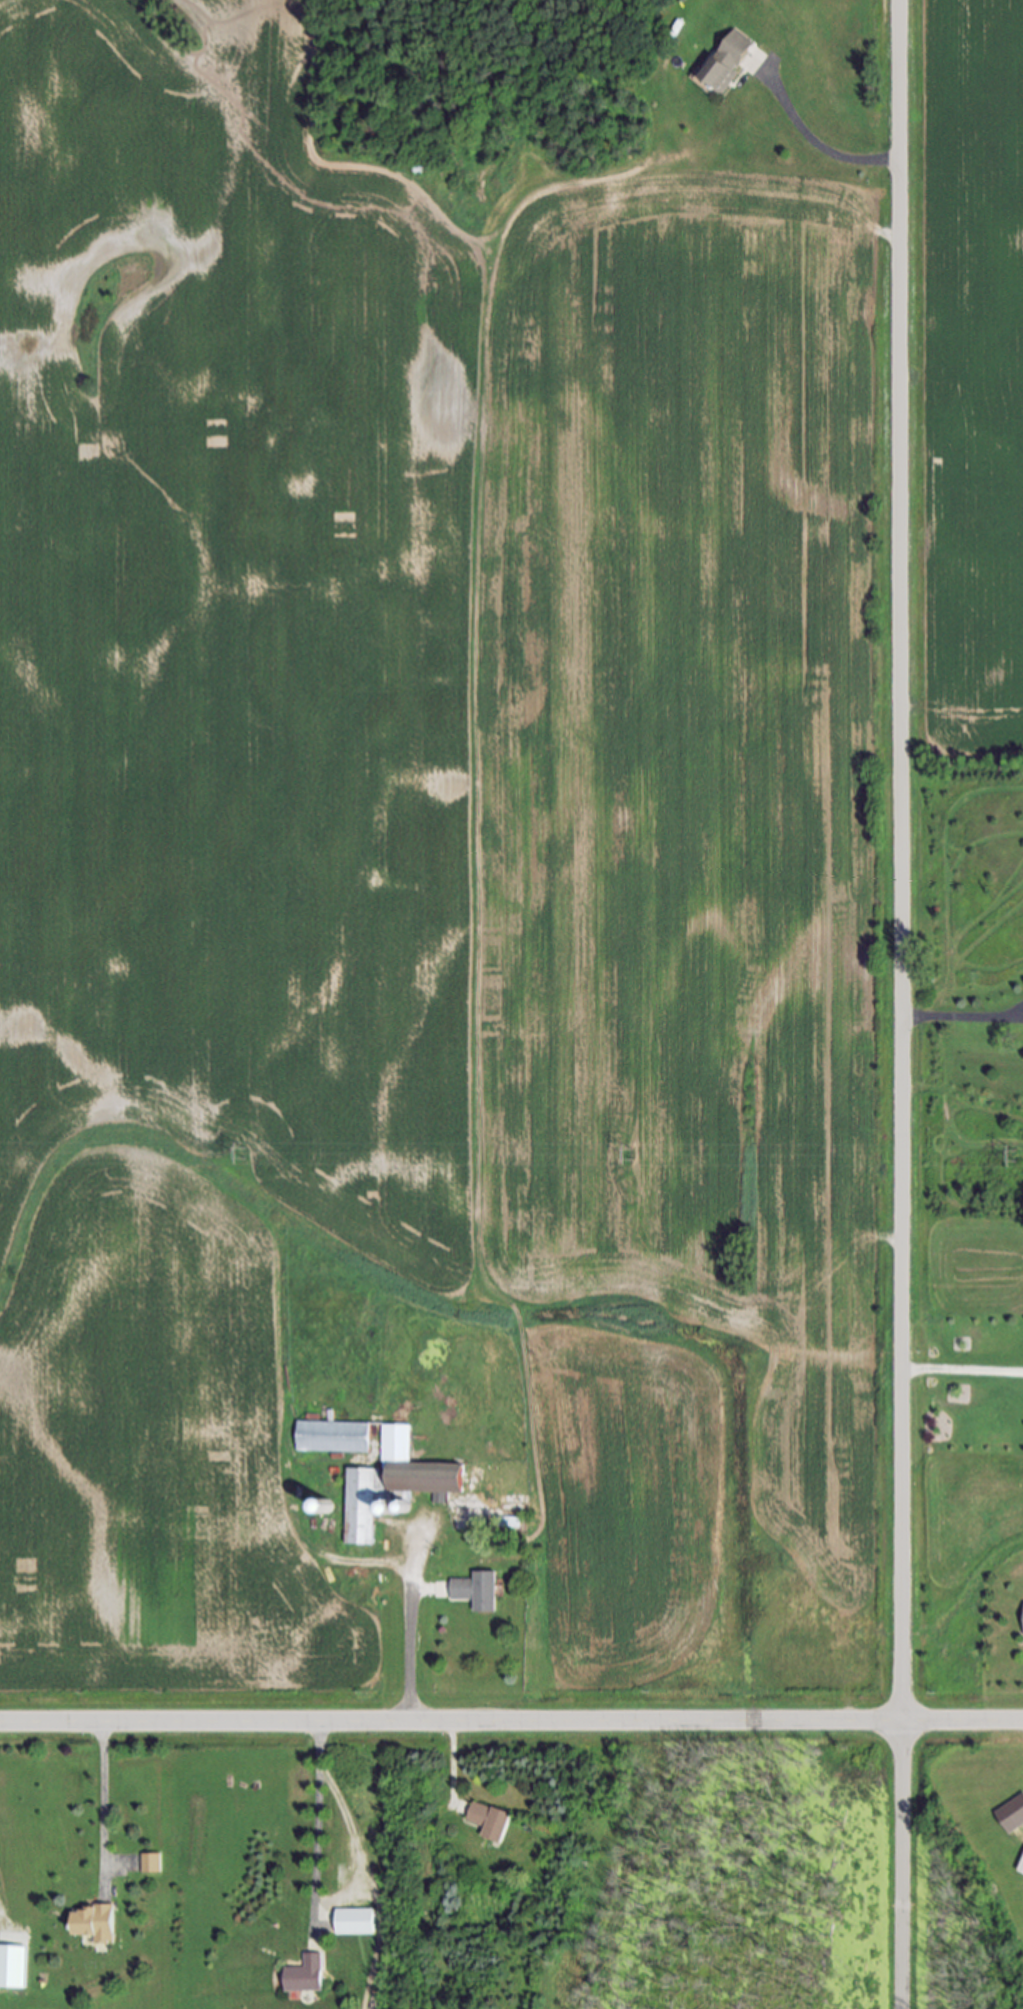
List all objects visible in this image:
building: (731, 65)
road: (818, 151)
crop: (965, 383)
road: (472, 682)
crop: (419, 823)
road: (901, 1004)
road: (963, 1016)
power tower: (247, 1155)
power tower: (636, 1155)
power tower: (1017, 1156)
road: (963, 1371)
building: (332, 1437)
building: (392, 1483)
crop: (621, 1513)
building: (476, 1592)
road: (410, 1641)
road: (511, 1722)
road: (452, 1763)
road: (103, 1802)
building: (1013, 1814)
building: (489, 1823)
road: (317, 1824)
building: (150, 1864)
building: (1021, 1867)
building: (354, 1922)
building: (92, 1925)
building: (13, 1966)
building: (304, 1975)

